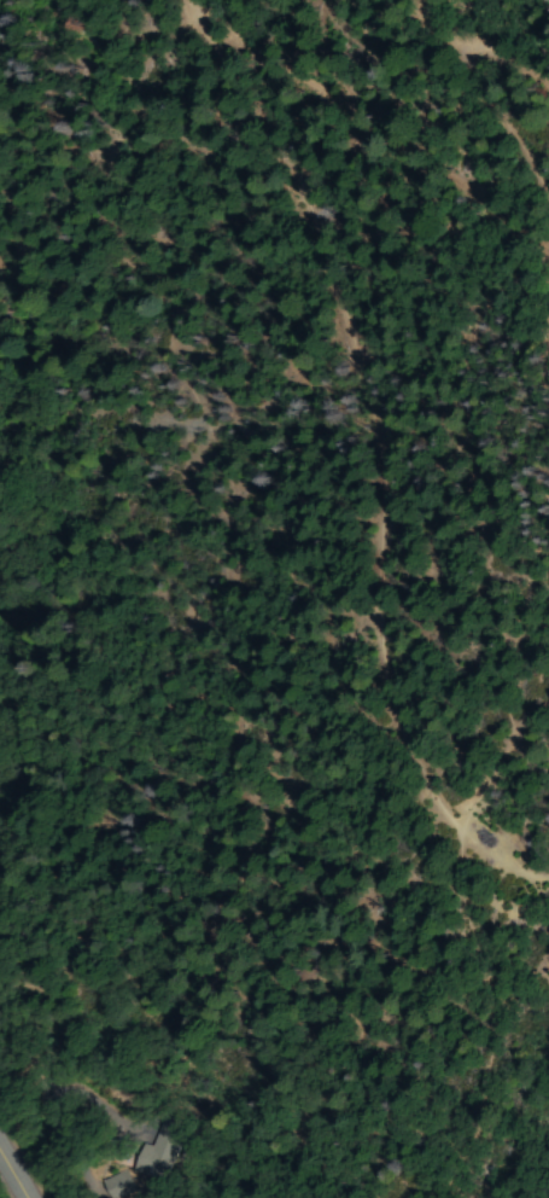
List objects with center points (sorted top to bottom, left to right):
building: (123, 1129)
building: (148, 1161)
road: (10, 1180)
building: (115, 1186)

